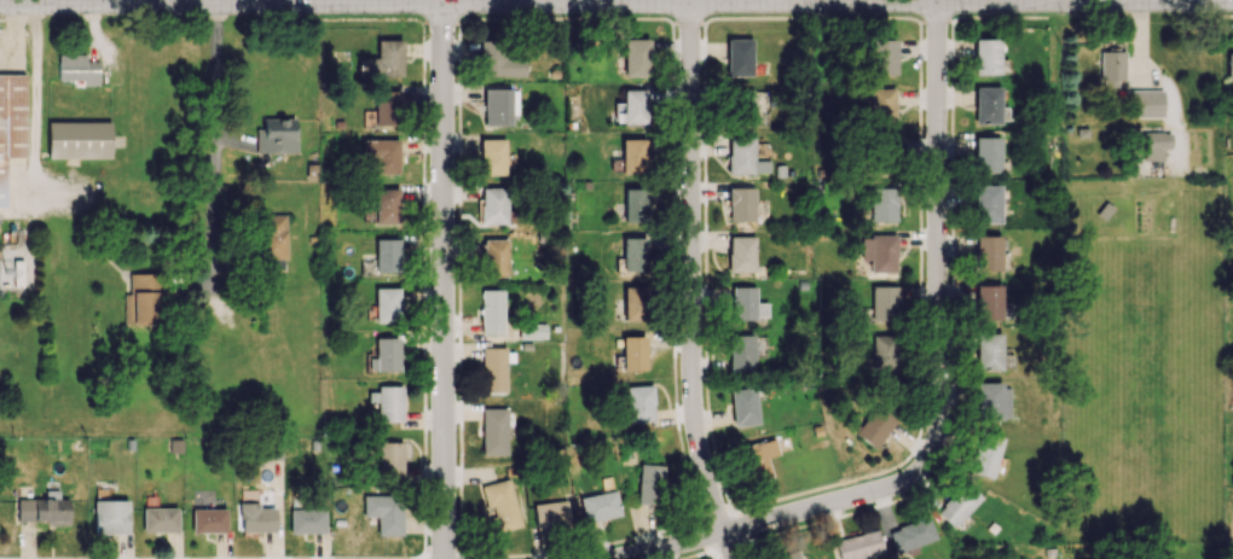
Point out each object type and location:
road: (682, 1)
road: (129, 2)
road: (548, 2)
road: (616, 4)
building: (986, 56)
building: (636, 57)
building: (739, 57)
building: (884, 57)
building: (499, 59)
building: (383, 60)
building: (1229, 65)
building: (77, 68)
building: (1146, 103)
building: (882, 105)
building: (988, 105)
building: (498, 106)
building: (633, 106)
building: (746, 106)
building: (386, 107)
building: (10, 120)
building: (277, 135)
building: (79, 139)
building: (1156, 145)
road: (215, 146)
building: (382, 153)
building: (986, 155)
building: (492, 156)
building: (633, 156)
building: (745, 156)
road: (939, 164)
building: (988, 203)
building: (635, 204)
building: (741, 204)
building: (884, 204)
building: (387, 205)
building: (493, 205)
building: (273, 241)
building: (880, 252)
building: (988, 252)
building: (632, 254)
building: (741, 254)
building: (387, 255)
building: (496, 256)
building: (18, 272)
road: (448, 281)
road: (690, 284)
building: (140, 299)
building: (884, 302)
building: (989, 302)
building: (635, 303)
building: (746, 303)
building: (387, 304)
building: (492, 311)
building: (533, 330)
building: (742, 351)
building: (885, 351)
building: (988, 351)
building: (633, 353)
building: (386, 355)
building: (494, 369)
building: (992, 401)
building: (388, 402)
building: (639, 402)
building: (743, 406)
building: (876, 424)
building: (494, 431)
building: (985, 454)
building: (758, 458)
building: (392, 459)
building: (649, 483)
road: (856, 500)
building: (503, 505)
building: (957, 505)
building: (600, 506)
building: (44, 507)
building: (384, 512)
building: (551, 513)
building: (110, 516)
building: (256, 517)
building: (160, 519)
building: (208, 519)
building: (307, 520)
building: (911, 534)
building: (859, 546)
building: (795, 557)

